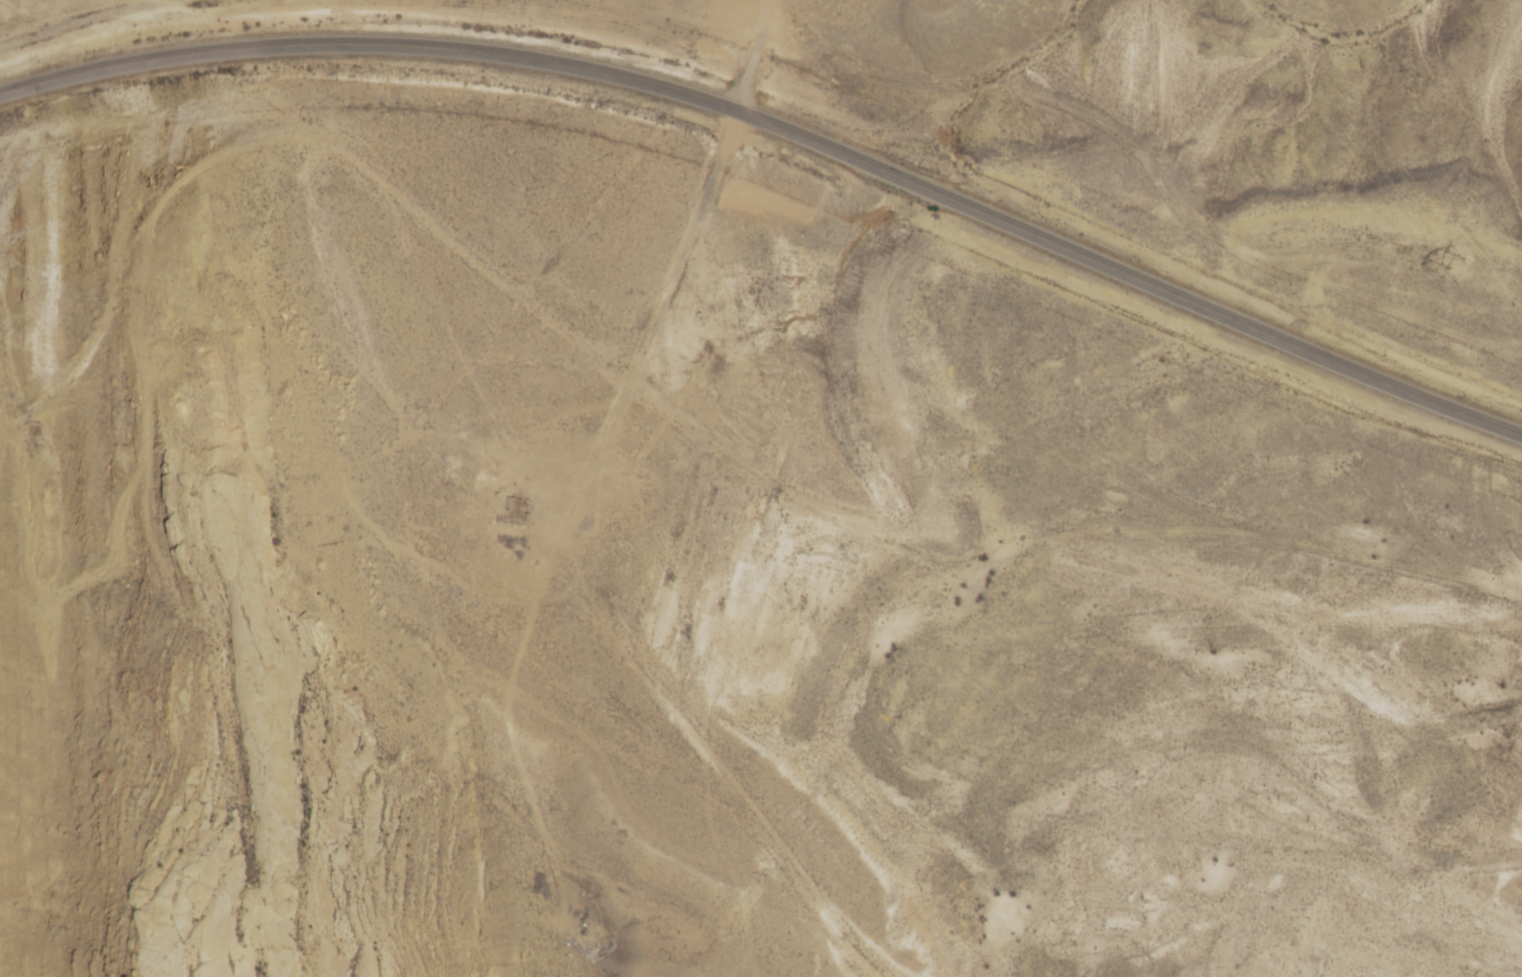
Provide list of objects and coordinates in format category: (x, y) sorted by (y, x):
road: (771, 2)
road: (773, 2)
road: (784, 128)
road: (155, 154)
power tower: (1454, 258)
road: (479, 263)
road: (678, 267)
road: (1062, 493)
road: (598, 564)
road: (566, 663)

